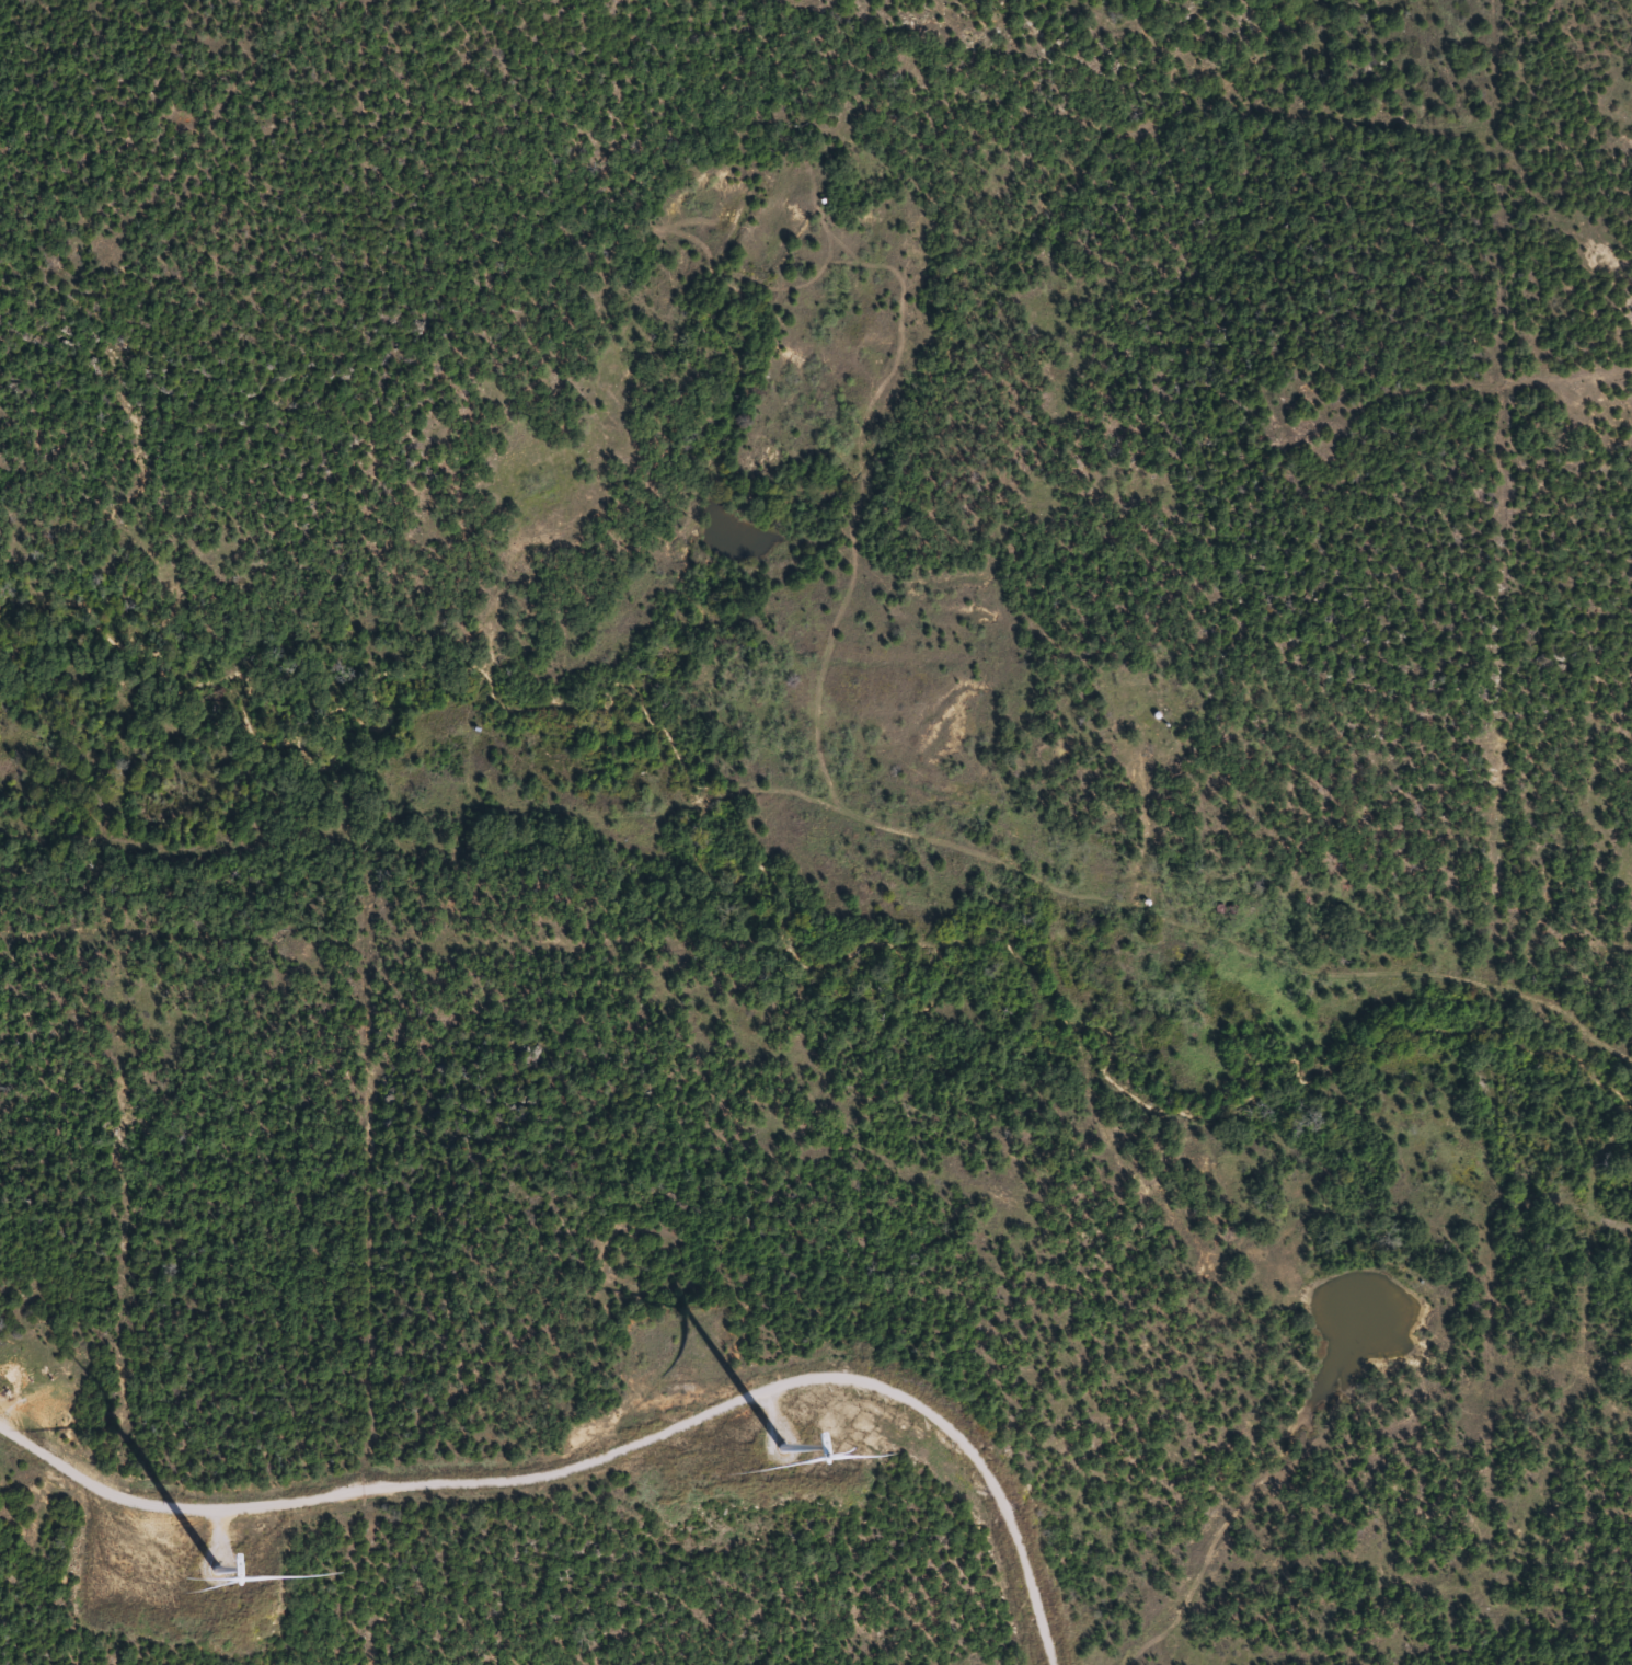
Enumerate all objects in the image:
wind turbine: (782, 1447)
wind turbine: (217, 1566)

